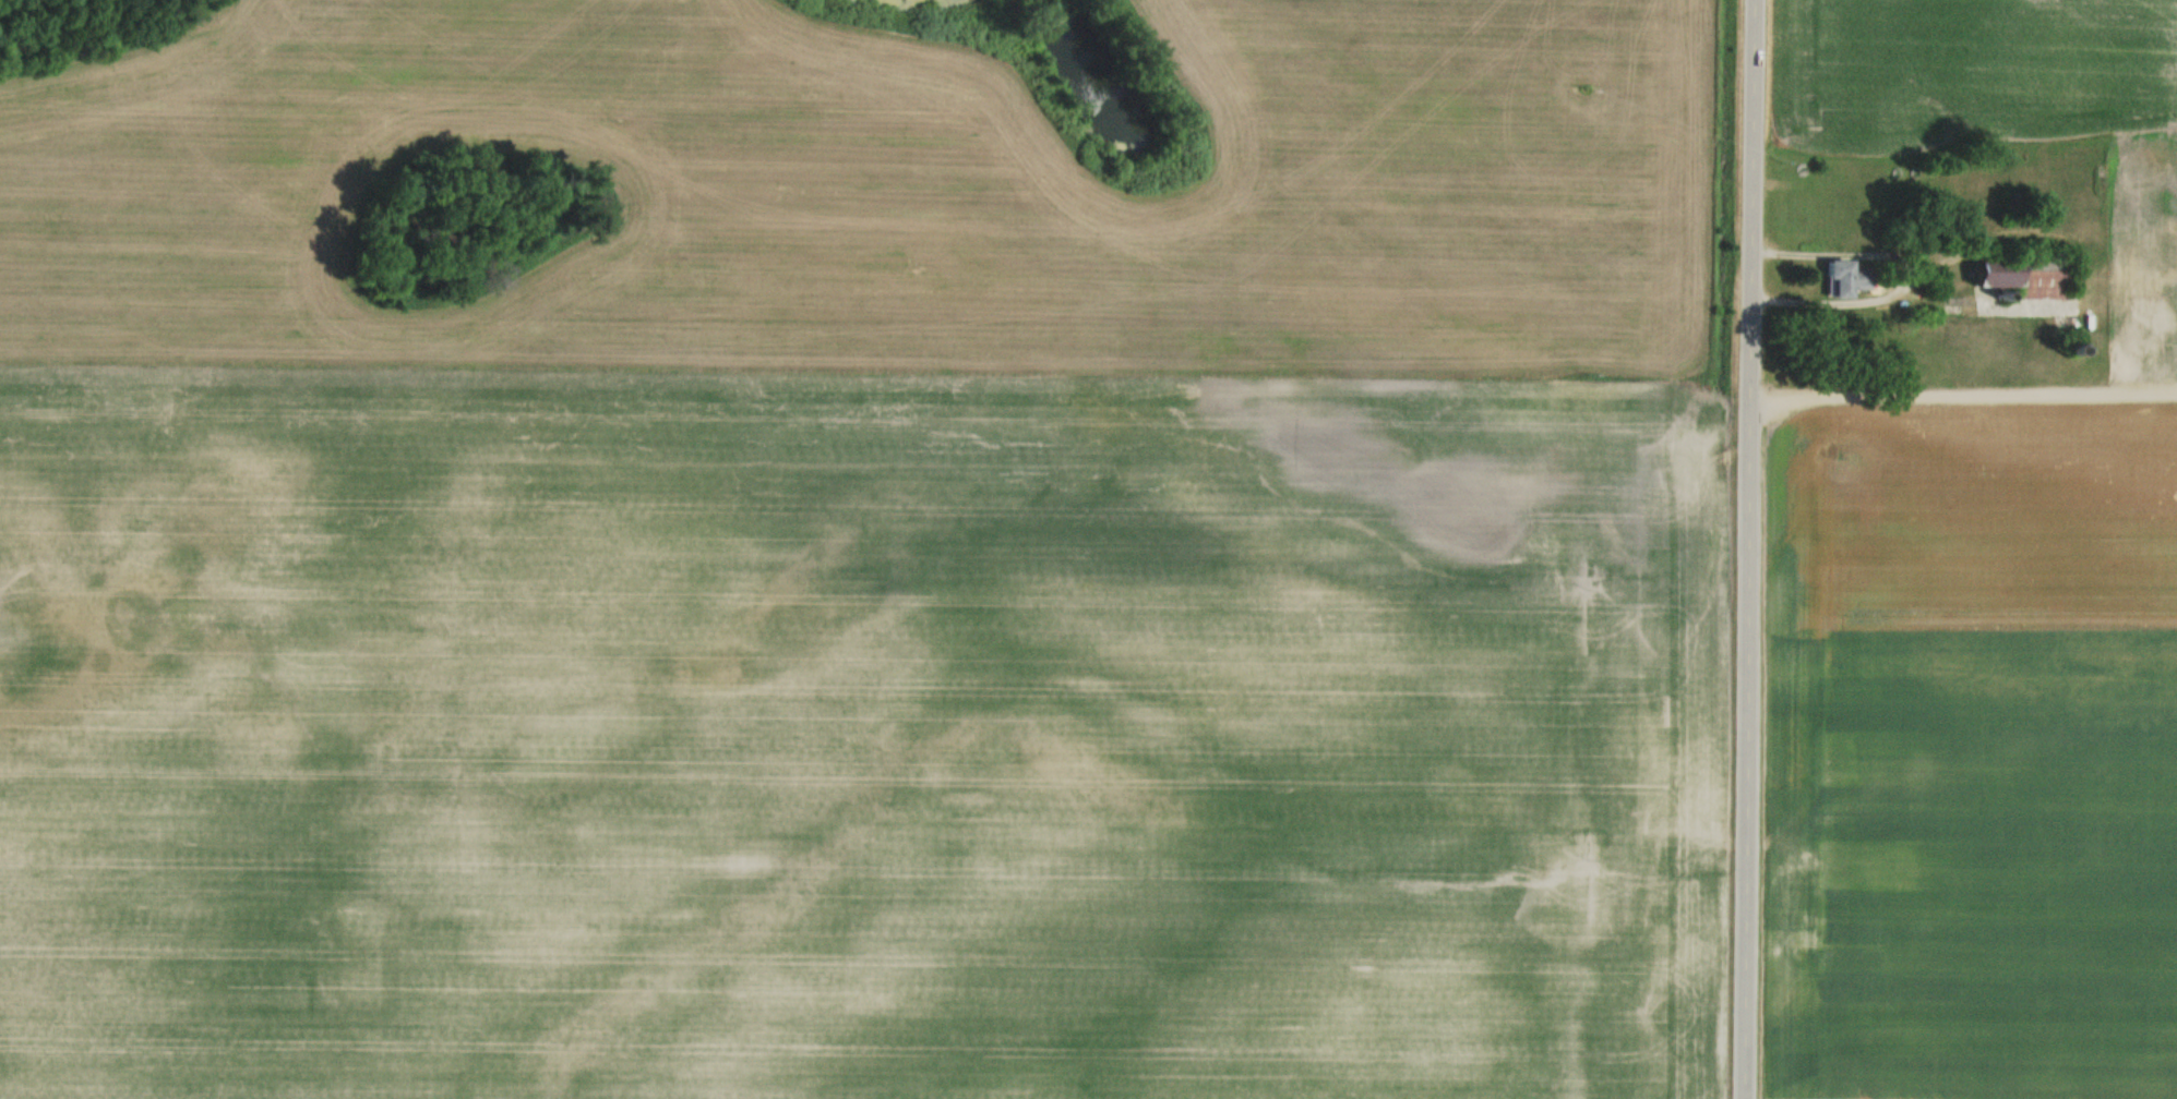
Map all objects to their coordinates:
road: (1909, 271)
building: (2021, 274)
building: (1842, 277)
road: (1744, 548)

